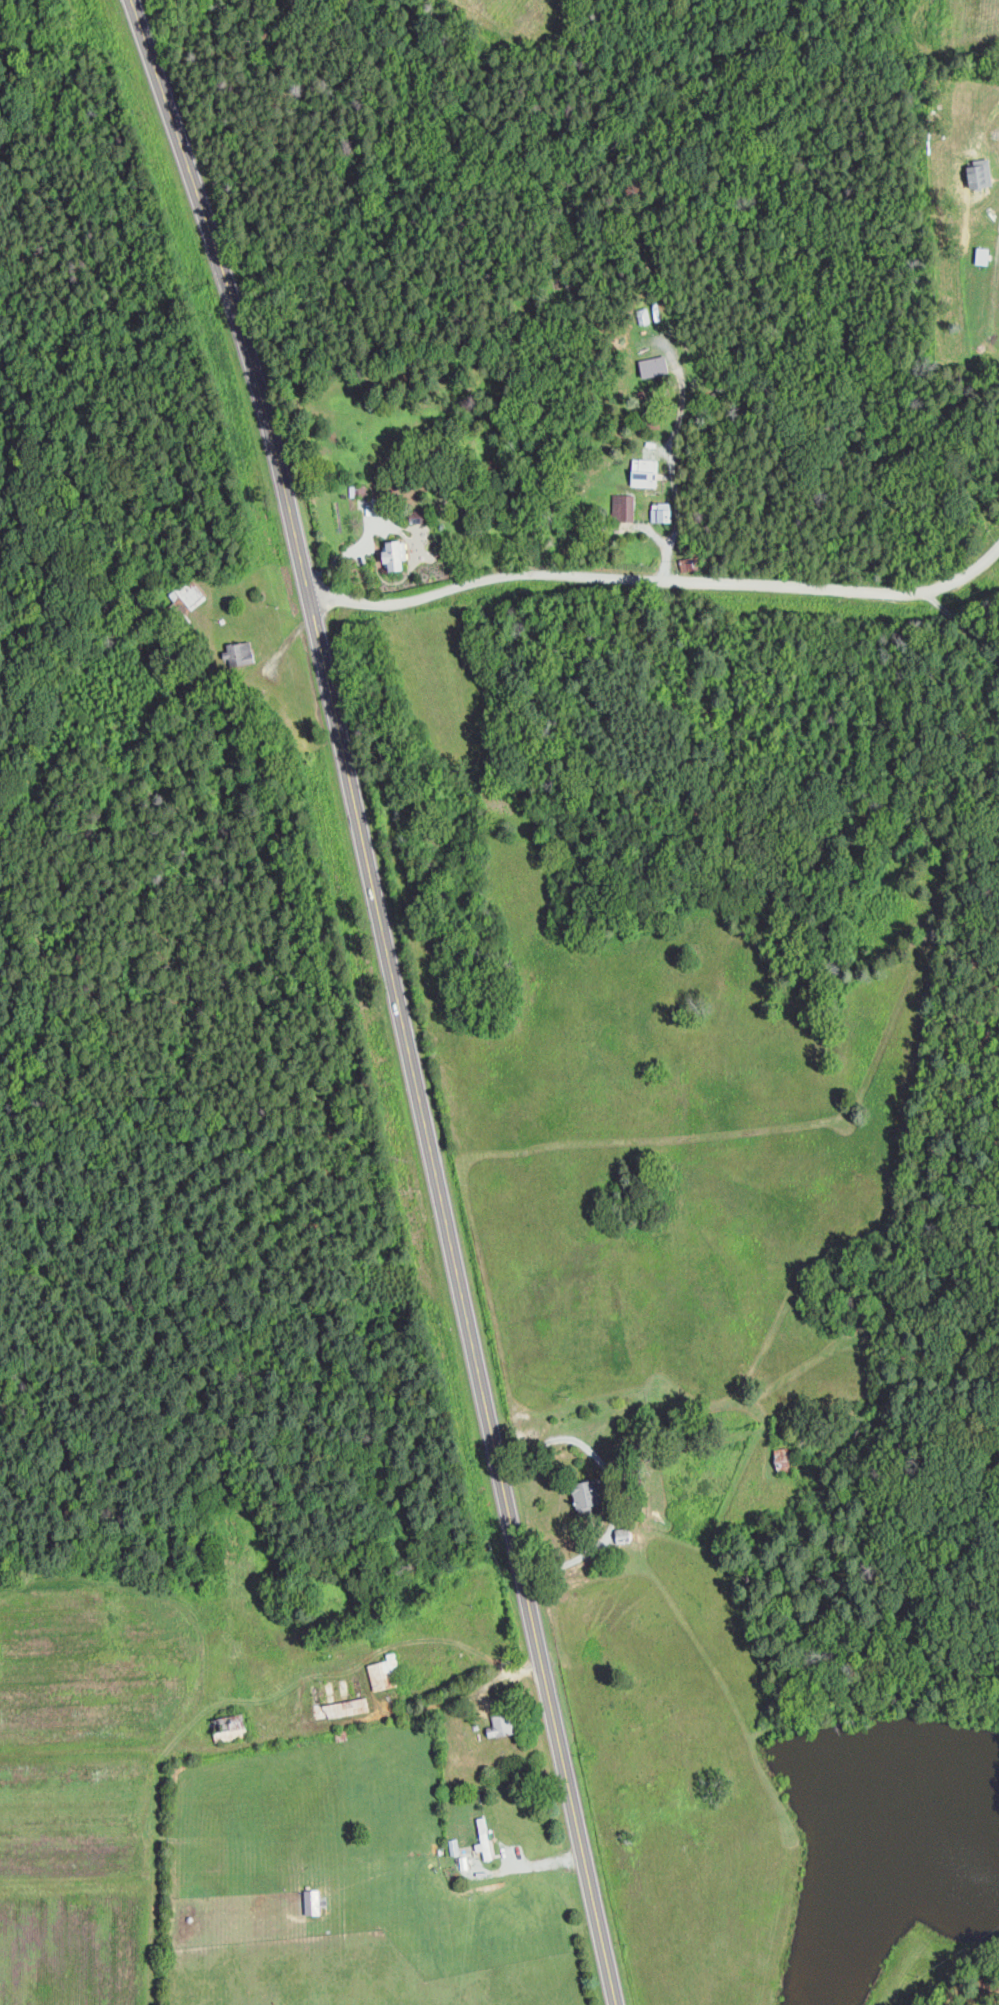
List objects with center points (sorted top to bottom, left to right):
building: (975, 170)
road: (997, 242)
building: (982, 251)
building: (656, 365)
road: (672, 457)
building: (359, 489)
building: (625, 506)
building: (663, 511)
building: (395, 555)
building: (691, 563)
road: (660, 579)
road: (960, 623)
road: (393, 997)
building: (784, 1458)
road: (615, 1483)
building: (592, 1492)
building: (624, 1534)
building: (386, 1672)
road: (267, 1696)
road: (452, 1699)
building: (342, 1707)
building: (503, 1723)
building: (231, 1726)
building: (484, 1837)
building: (454, 1845)
building: (313, 1901)

